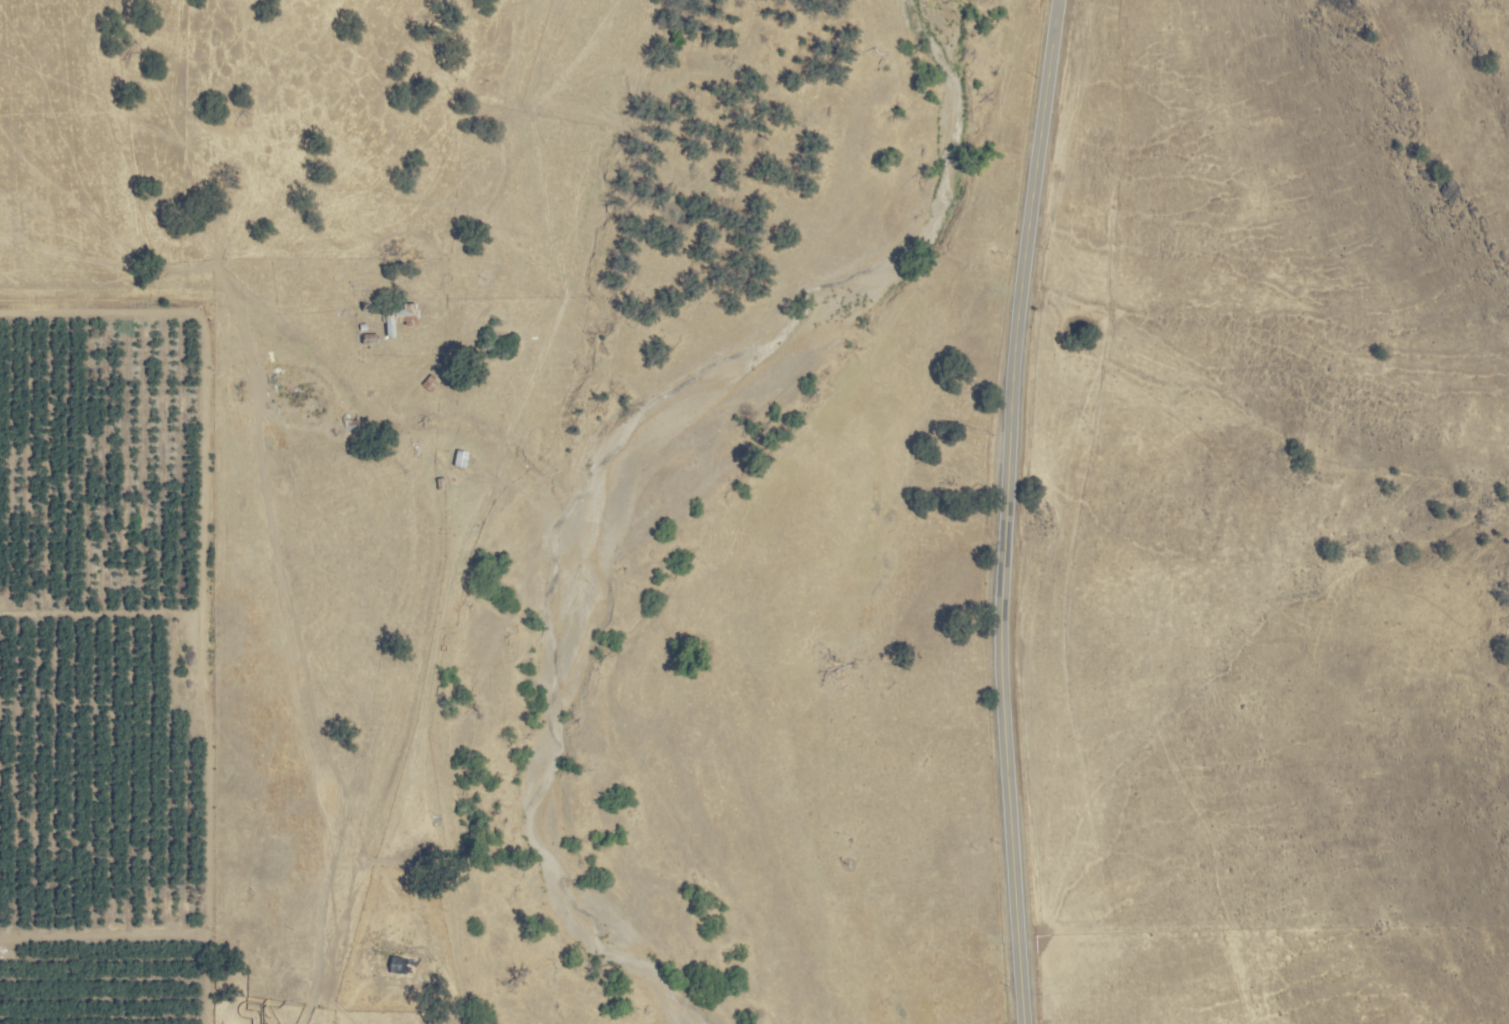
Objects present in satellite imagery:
building: (398, 317)
crop: (372, 359)
building: (428, 383)
building: (458, 459)
road: (1006, 510)
crop: (769, 598)
road: (206, 998)

